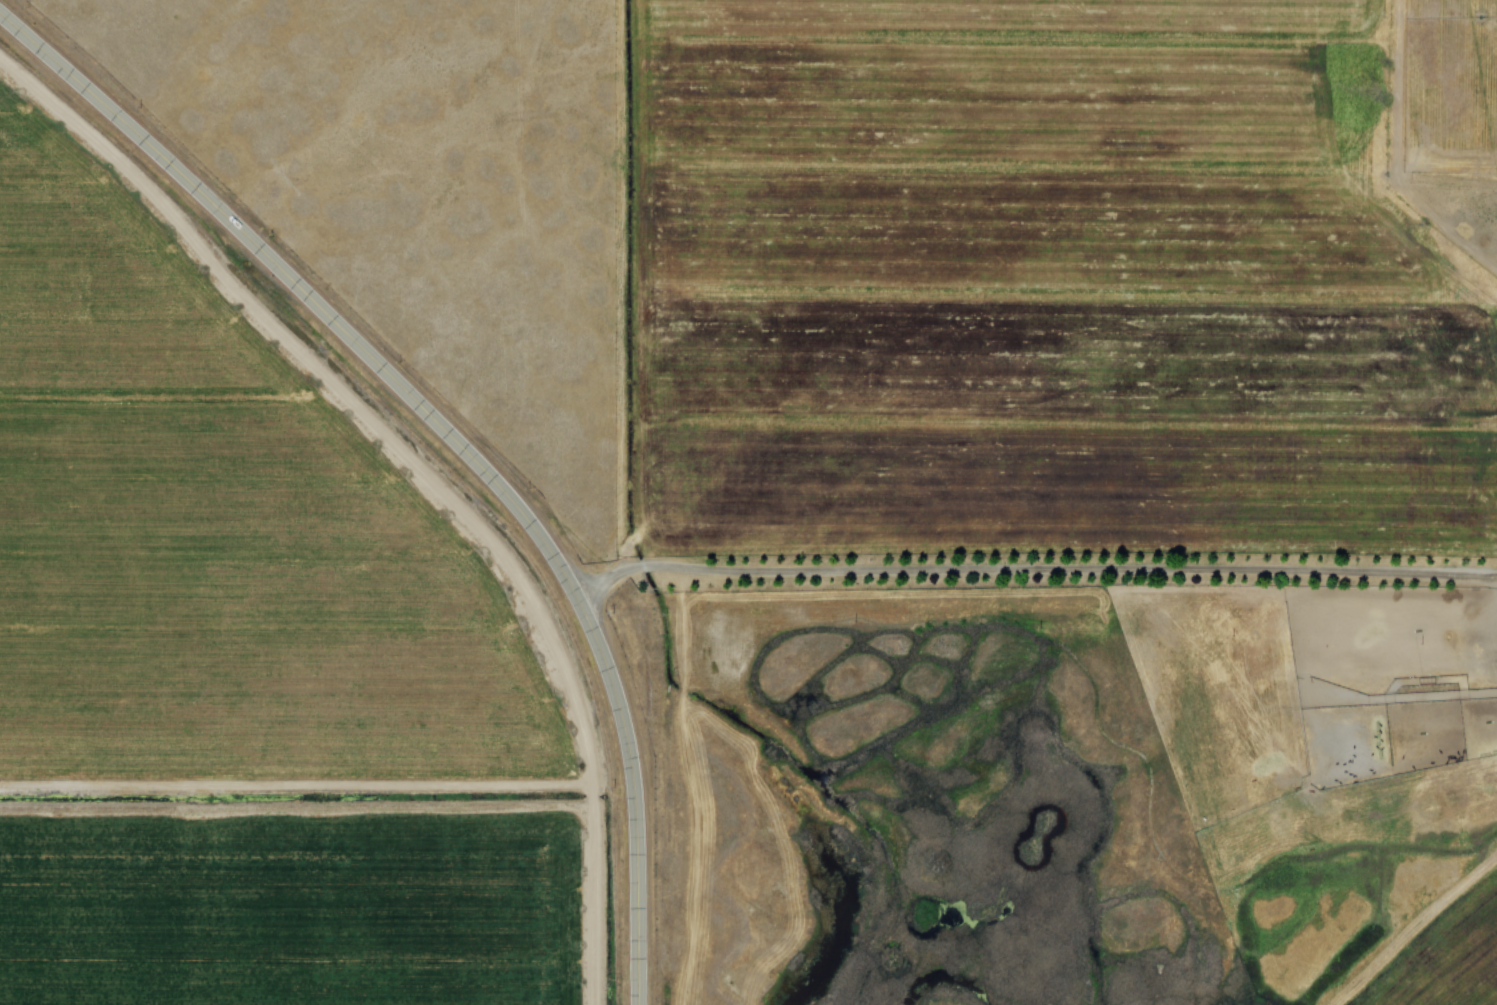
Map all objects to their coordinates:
road: (628, 285)
road: (451, 440)
road: (1032, 572)

